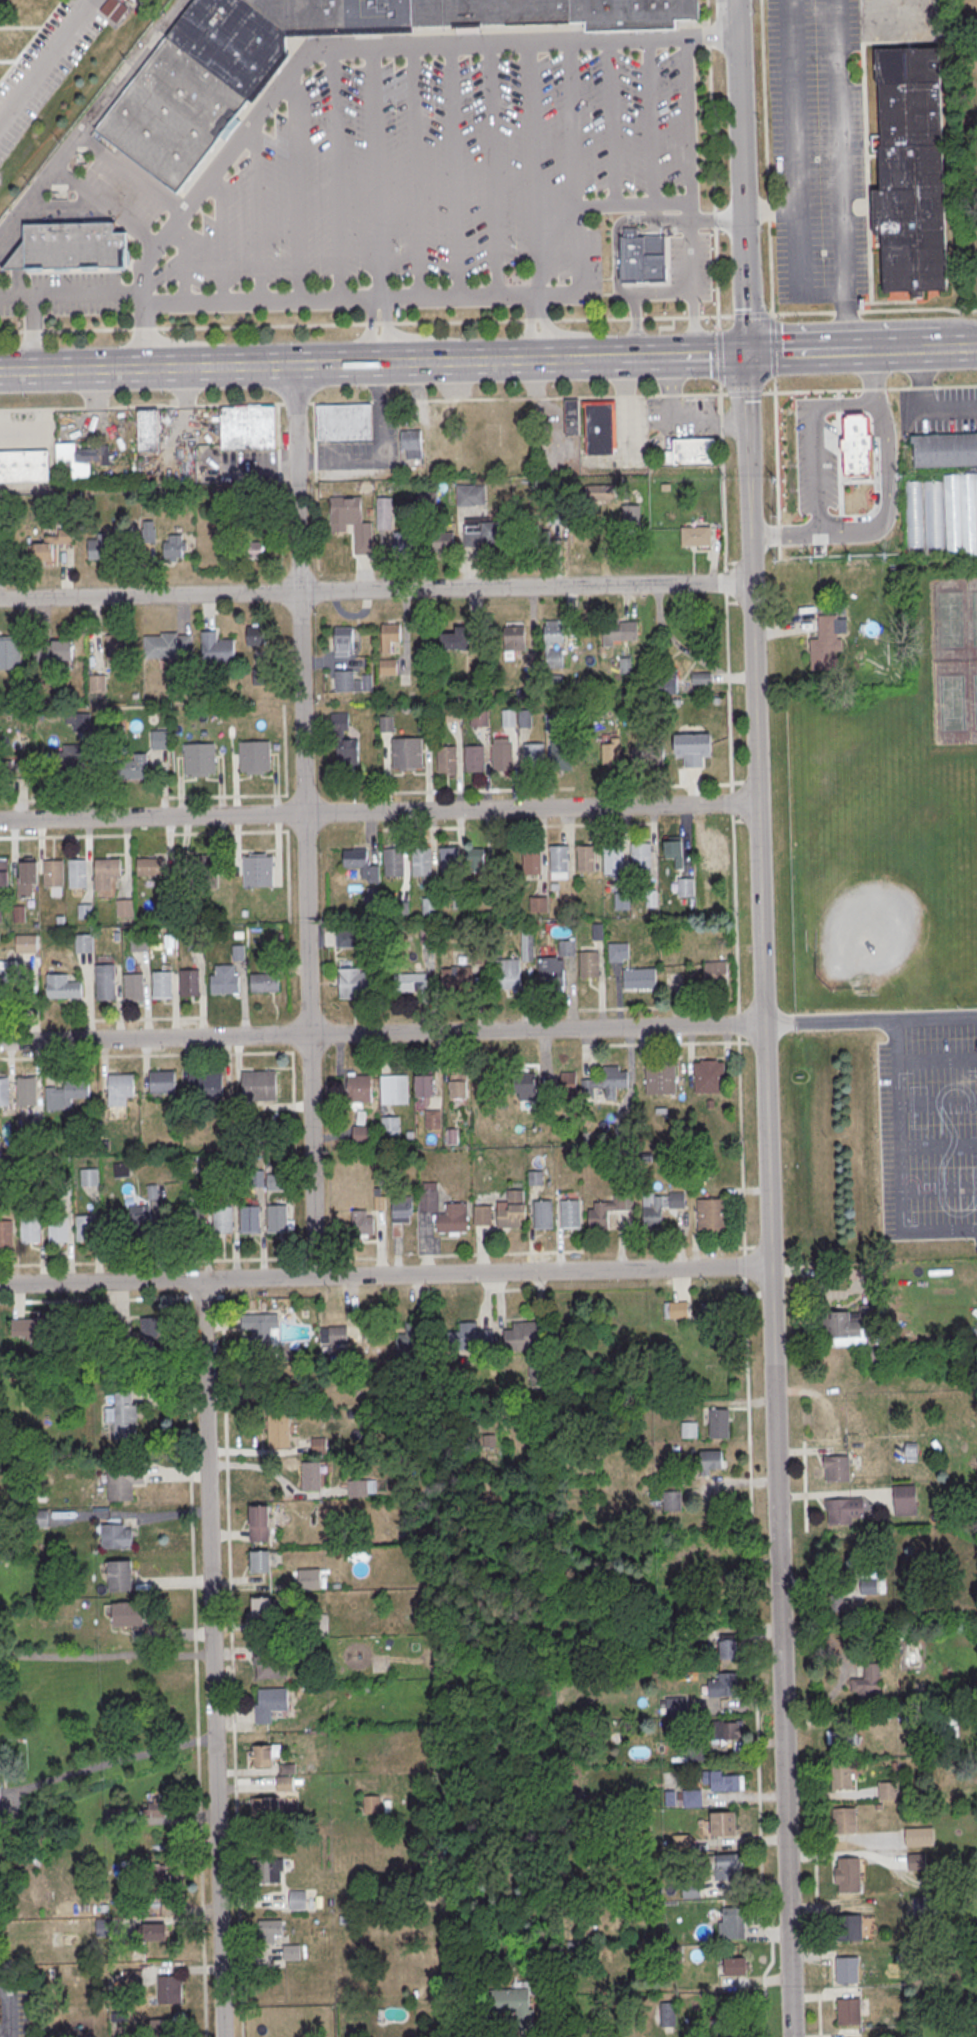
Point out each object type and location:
building: (114, 9)
building: (554, 13)
road: (712, 39)
road: (364, 49)
road: (49, 66)
building: (223, 72)
road: (690, 123)
road: (649, 124)
road: (577, 125)
road: (612, 125)
park: (968, 139)
road: (840, 147)
parking lot: (817, 151)
road: (64, 153)
road: (797, 168)
road: (533, 170)
road: (492, 171)
road: (453, 172)
building: (911, 172)
road: (415, 173)
road: (377, 174)
road: (333, 175)
road: (739, 176)
road: (296, 185)
road: (26, 207)
road: (259, 208)
road: (770, 210)
road: (718, 220)
road: (223, 233)
building: (74, 245)
building: (644, 256)
road: (182, 259)
road: (693, 280)
road: (71, 295)
road: (581, 295)
road: (380, 300)
road: (262, 303)
road: (808, 313)
road: (144, 314)
road: (847, 322)
road: (695, 325)
road: (635, 326)
road: (538, 327)
road: (31, 334)
road: (925, 347)
road: (808, 350)
road: (381, 352)
traffic signals: (744, 353)
road: (681, 354)
road: (594, 357)
road: (285, 366)
road: (874, 375)
road: (488, 398)
road: (926, 402)
parking lot: (938, 410)
building: (572, 417)
road: (673, 421)
building: (345, 423)
building: (597, 427)
building: (248, 429)
building: (149, 430)
road: (816, 437)
building: (817, 439)
building: (410, 443)
building: (856, 447)
road: (378, 450)
building: (945, 450)
building: (692, 452)
building: (81, 457)
building: (25, 467)
road: (747, 468)
building: (602, 493)
road: (887, 493)
building: (471, 494)
building: (383, 513)
building: (943, 513)
building: (351, 522)
road: (784, 530)
building: (695, 535)
building: (489, 536)
building: (407, 540)
building: (442, 540)
building: (112, 543)
building: (51, 545)
building: (174, 547)
building: (252, 549)
road: (375, 591)
building: (619, 630)
building: (255, 634)
building: (391, 637)
building: (513, 638)
building: (456, 639)
building: (343, 640)
building: (827, 642)
building: (553, 643)
building: (169, 645)
building: (118, 647)
building: (217, 648)
building: (54, 651)
building: (10, 654)
park: (953, 658)
building: (387, 666)
building: (701, 677)
building: (352, 681)
building: (97, 684)
building: (479, 717)
building: (509, 718)
building: (525, 718)
road: (729, 719)
building: (78, 721)
building: (552, 722)
building: (387, 723)
building: (161, 740)
building: (343, 741)
building: (610, 748)
building: (693, 748)
building: (407, 753)
building: (562, 755)
building: (647, 755)
building: (255, 756)
building: (503, 756)
building: (534, 756)
building: (201, 758)
building: (475, 758)
building: (447, 759)
building: (12, 766)
building: (133, 767)
road: (378, 812)
road: (303, 821)
building: (673, 849)
building: (719, 849)
building: (614, 856)
building: (641, 856)
building: (559, 859)
building: (587, 859)
building: (475, 860)
building: (533, 860)
building: (449, 861)
building: (394, 862)
building: (422, 862)
building: (361, 863)
building: (151, 867)
building: (258, 871)
building: (4, 873)
building: (54, 873)
building: (78, 873)
building: (106, 873)
building: (203, 873)
building: (27, 878)
building: (686, 887)
building: (622, 901)
building: (539, 905)
building: (430, 906)
building: (126, 908)
building: (167, 909)
building: (86, 912)
building: (1, 914)
building: (428, 935)
building: (195, 941)
building: (140, 942)
building: (85, 943)
building: (27, 944)
building: (527, 944)
building: (567, 949)
building: (619, 952)
building: (239, 953)
building: (589, 964)
building: (716, 971)
building: (551, 972)
building: (508, 974)
building: (456, 977)
building: (640, 978)
building: (3, 980)
building: (225, 980)
building: (106, 982)
building: (190, 982)
building: (265, 982)
building: (410, 982)
building: (356, 983)
building: (163, 985)
building: (63, 987)
building: (134, 987)
road: (870, 1019)
road: (381, 1034)
building: (709, 1077)
building: (661, 1079)
building: (162, 1081)
building: (522, 1082)
building: (606, 1082)
building: (566, 1083)
building: (425, 1084)
building: (458, 1085)
building: (259, 1086)
building: (206, 1087)
building: (120, 1089)
building: (360, 1089)
building: (27, 1090)
building: (395, 1090)
building: (5, 1091)
building: (66, 1093)
building: (433, 1119)
building: (390, 1126)
parking lot: (928, 1130)
building: (362, 1135)
road: (898, 1165)
building: (88, 1177)
building: (536, 1178)
building: (274, 1181)
building: (428, 1201)
building: (659, 1208)
building: (512, 1210)
building: (607, 1210)
building: (400, 1213)
building: (544, 1214)
building: (571, 1214)
building: (713, 1214)
building: (483, 1215)
building: (278, 1218)
building: (454, 1218)
building: (251, 1219)
building: (138, 1220)
building: (224, 1220)
building: (196, 1221)
building: (363, 1223)
building: (87, 1228)
building: (31, 1229)
building: (59, 1229)
building: (7, 1234)
road: (51, 1265)
road: (384, 1275)
building: (676, 1310)
road: (771, 1310)
building: (713, 1311)
building: (851, 1327)
building: (36, 1329)
building: (261, 1332)
building: (338, 1335)
building: (151, 1336)
building: (522, 1337)
building: (470, 1338)
building: (407, 1340)
building: (875, 1357)
building: (125, 1416)
building: (719, 1424)
building: (279, 1430)
building: (689, 1430)
building: (319, 1445)
building: (910, 1452)
building: (710, 1460)
building: (837, 1469)
building: (312, 1476)
building: (124, 1483)
building: (358, 1489)
building: (904, 1499)
building: (671, 1500)
building: (839, 1512)
building: (260, 1523)
building: (117, 1537)
road: (752, 1542)
building: (261, 1561)
road: (194, 1575)
building: (122, 1576)
building: (310, 1579)
building: (868, 1587)
building: (838, 1604)
building: (261, 1607)
building: (130, 1614)
building: (316, 1625)
building: (726, 1649)
road: (232, 1651)
road: (105, 1654)
road: (212, 1658)
building: (268, 1662)
building: (867, 1680)
building: (725, 1686)
building: (270, 1704)
building: (676, 1706)
building: (729, 1729)
building: (841, 1737)
building: (262, 1756)
road: (106, 1765)
building: (287, 1769)
building: (842, 1776)
building: (723, 1780)
building: (285, 1784)
building: (888, 1791)
building: (692, 1797)
building: (372, 1805)
building: (265, 1806)
building: (165, 1813)
building: (112, 1815)
building: (845, 1821)
building: (724, 1824)
building: (920, 1837)
building: (166, 1854)
building: (917, 1863)
building: (728, 1866)
building: (267, 1870)
building: (848, 1875)
building: (691, 1890)
building: (298, 1900)
building: (926, 1906)
building: (735, 1923)
building: (104, 1928)
building: (849, 1928)
building: (269, 1931)
building: (155, 1933)
building: (292, 1952)
building: (734, 1966)
building: (848, 1970)
building: (134, 1979)
building: (170, 1990)
building: (512, 2005)
road: (7, 2009)
parking lot: (14, 2009)
building: (849, 2012)
building: (667, 2014)
building: (160, 2028)
road: (526, 2032)

